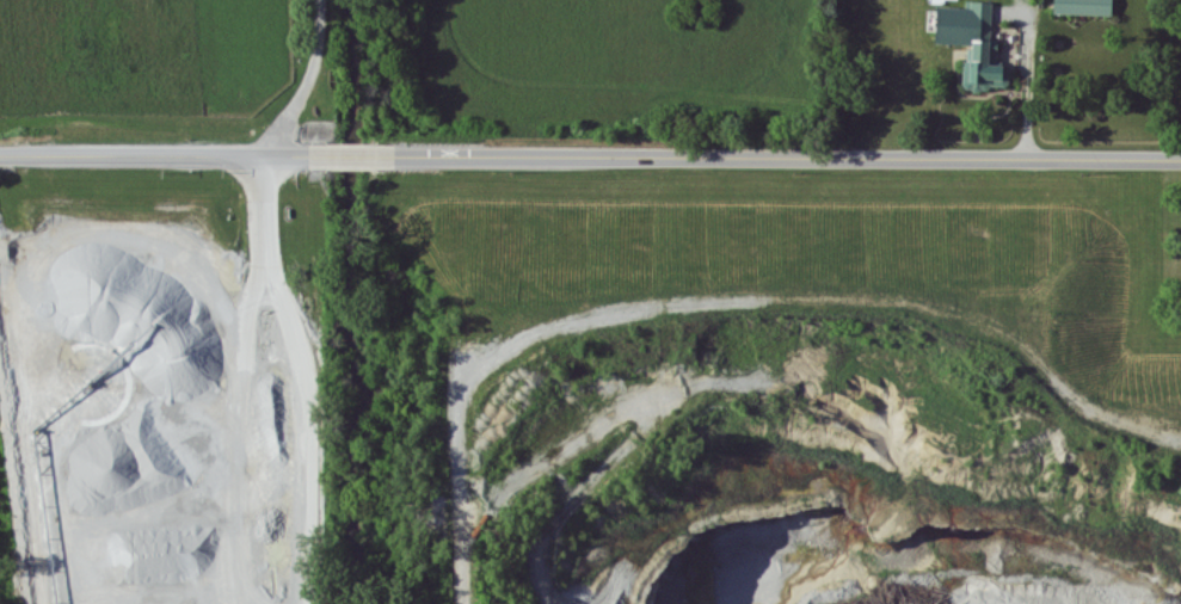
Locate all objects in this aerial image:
building: (1083, 7)
building: (973, 44)
road: (309, 81)
road: (1031, 86)
road: (168, 153)
road: (365, 154)
road: (786, 158)
road: (302, 376)

